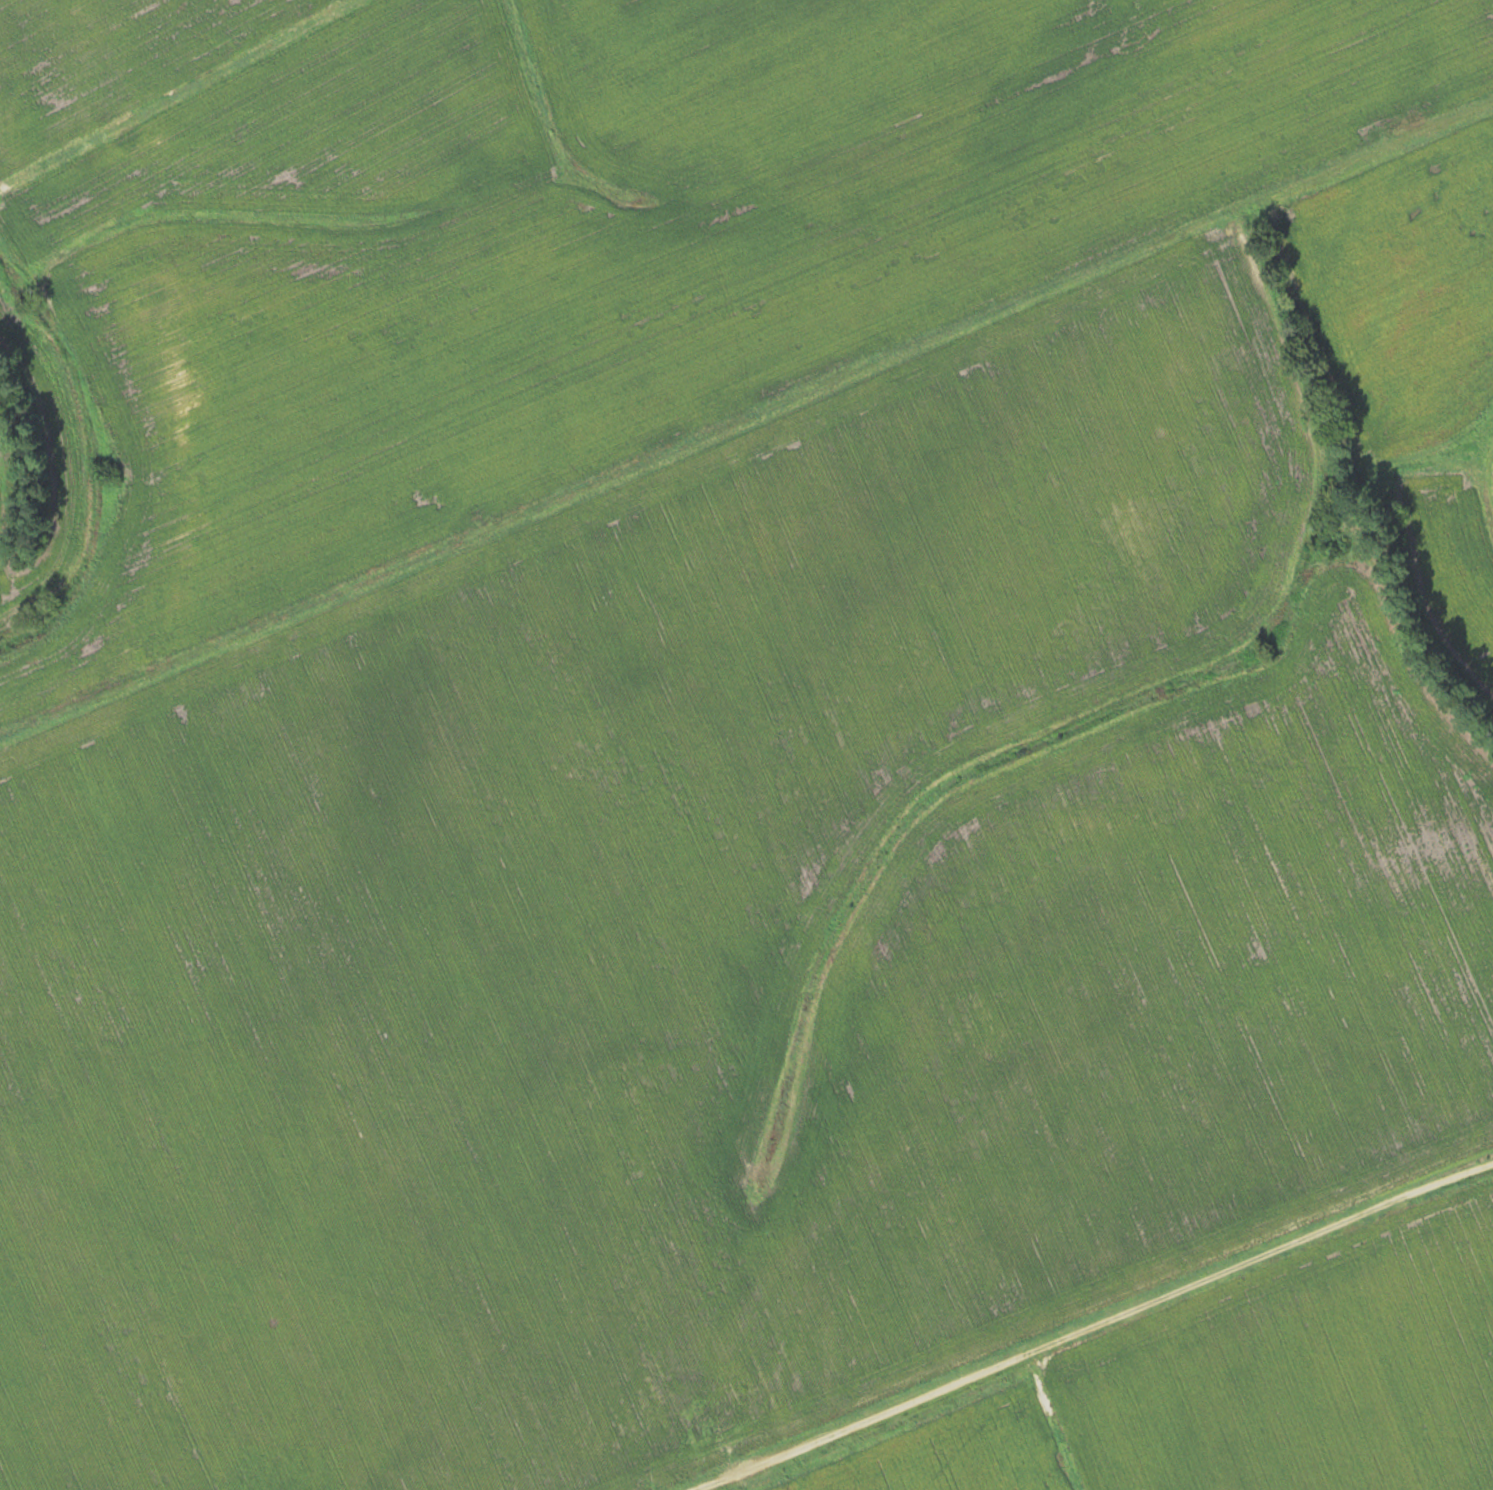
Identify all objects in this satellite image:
road: (747, 416)
road: (1083, 1320)

